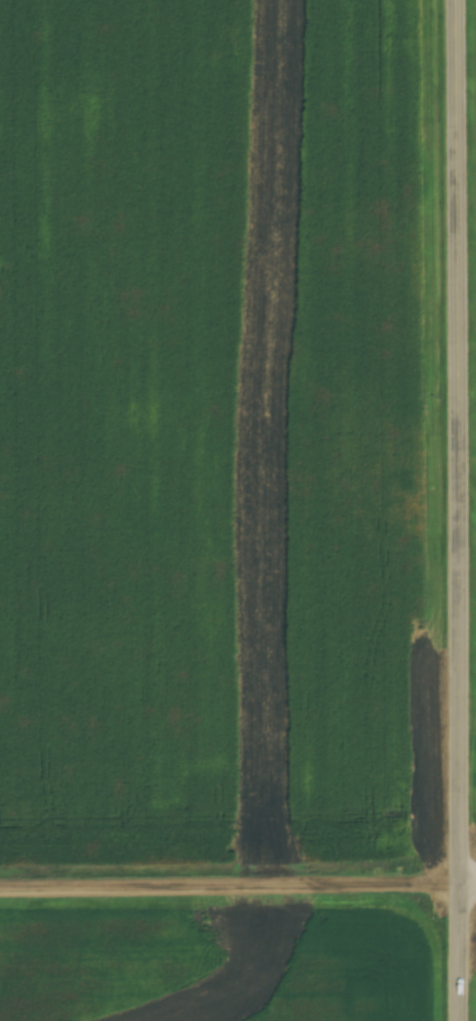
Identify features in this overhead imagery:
road: (462, 445)
road: (470, 889)
road: (232, 892)
road: (464, 955)

